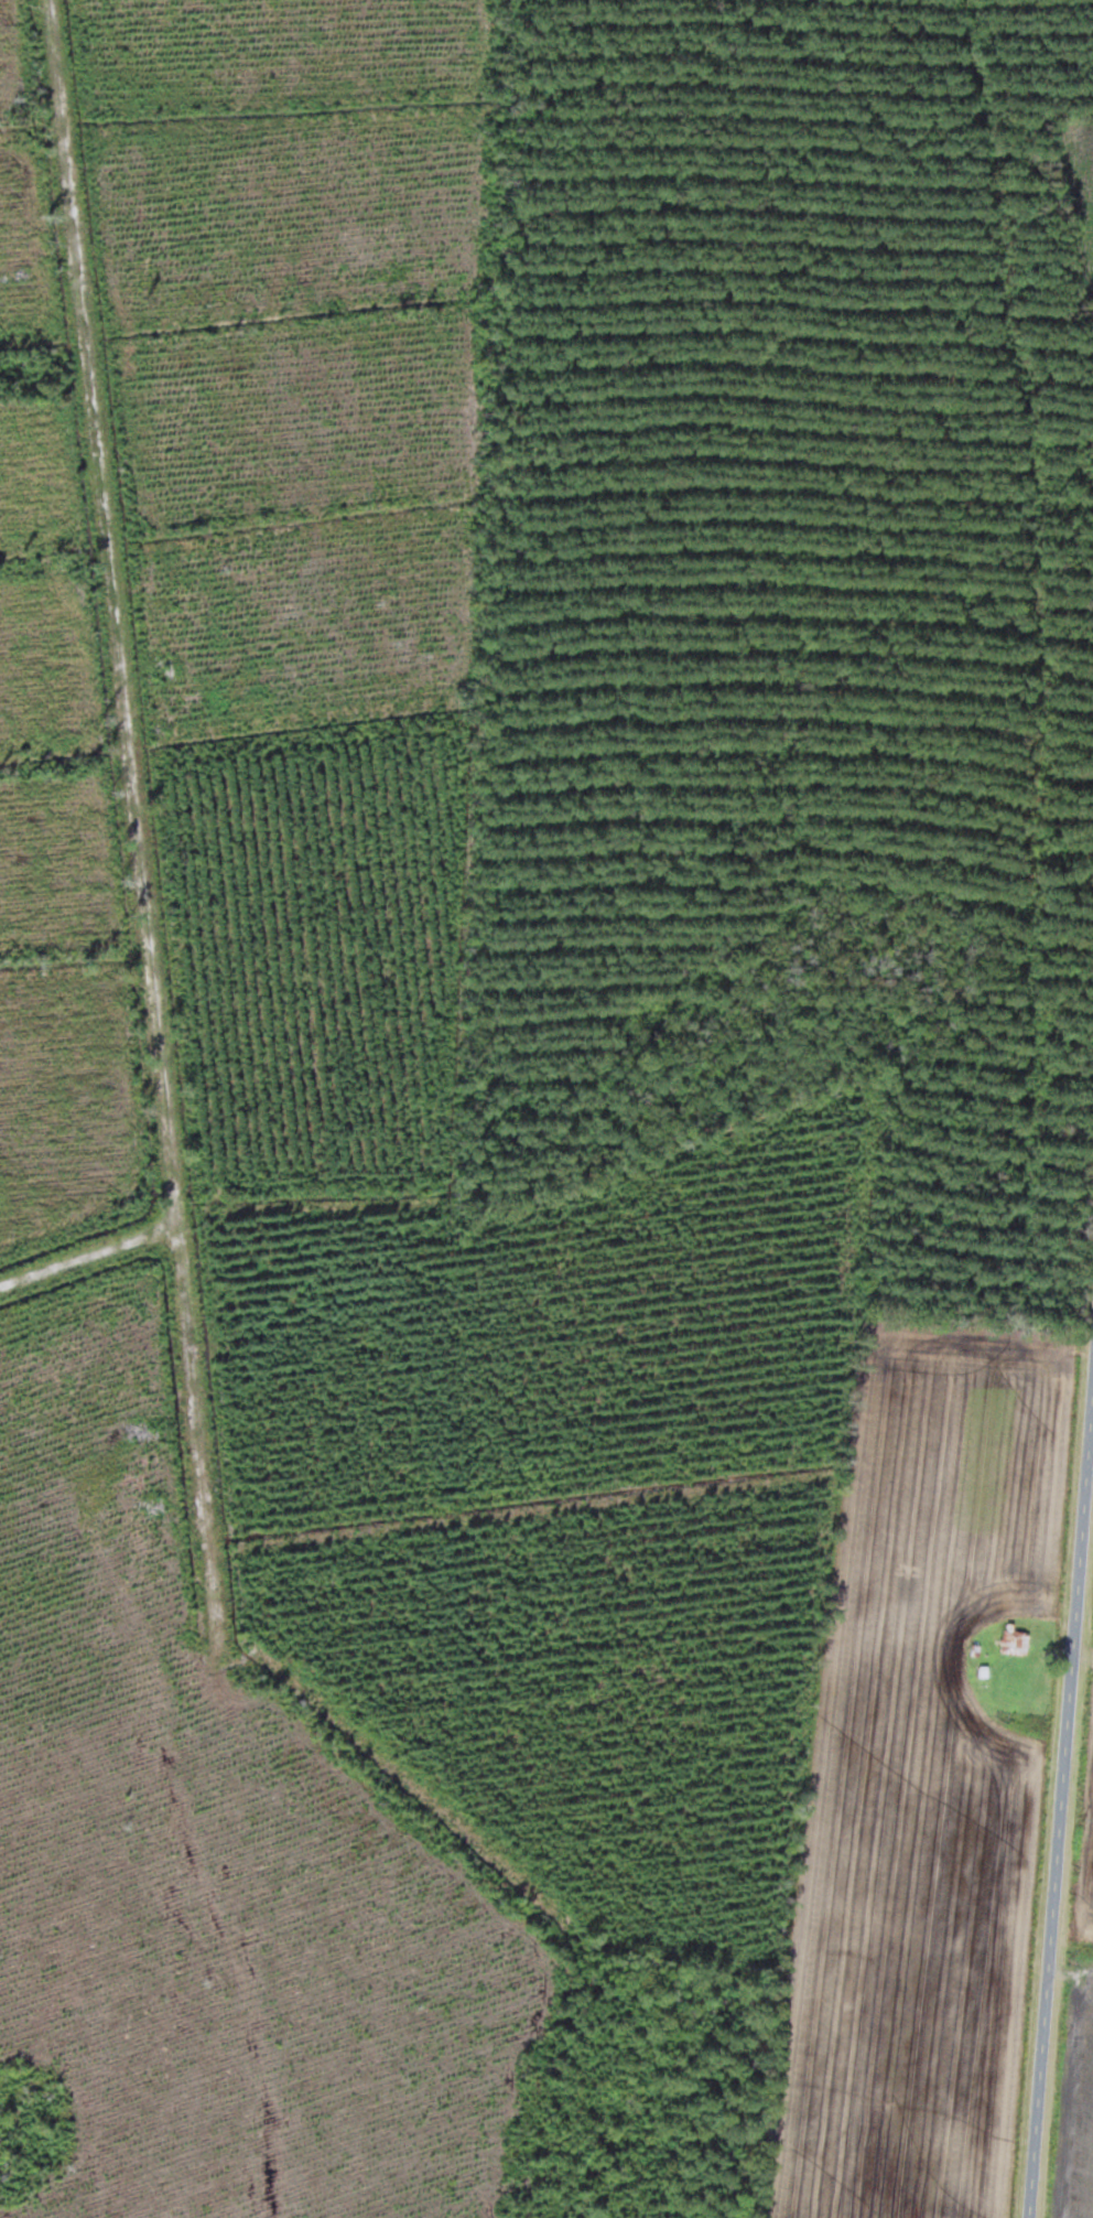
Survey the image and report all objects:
road: (164, 1372)
building: (1017, 1638)
road: (1062, 1841)

